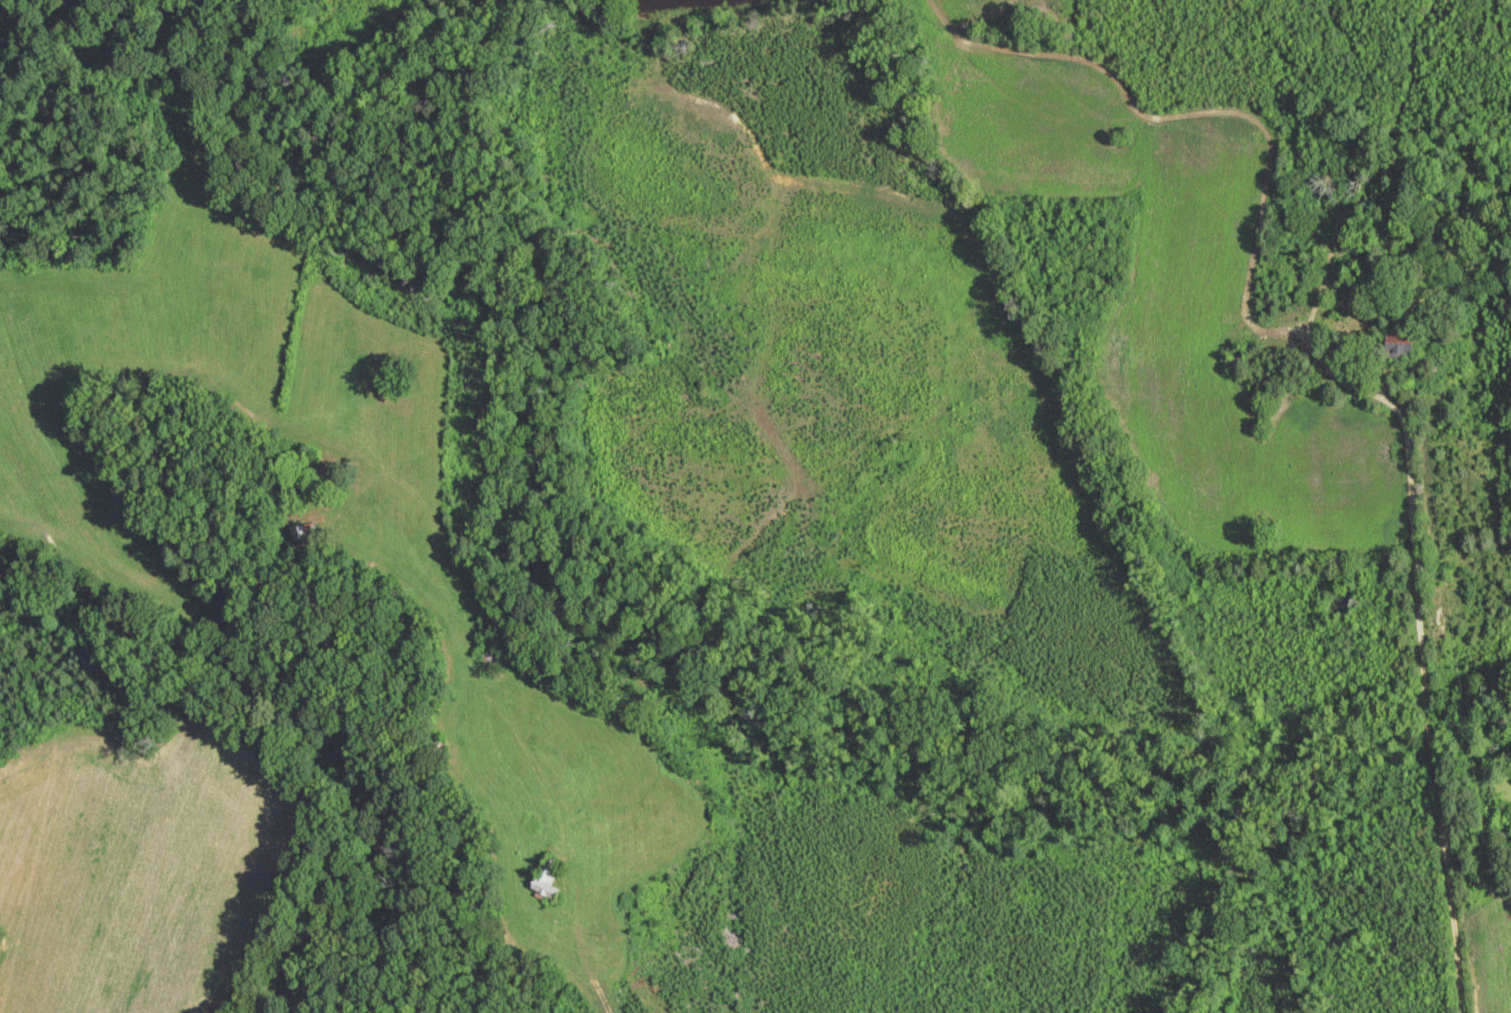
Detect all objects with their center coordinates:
building: (1399, 347)
building: (1238, 360)
building: (305, 531)
road: (1422, 645)
building: (486, 662)
building: (547, 878)
road: (570, 950)

